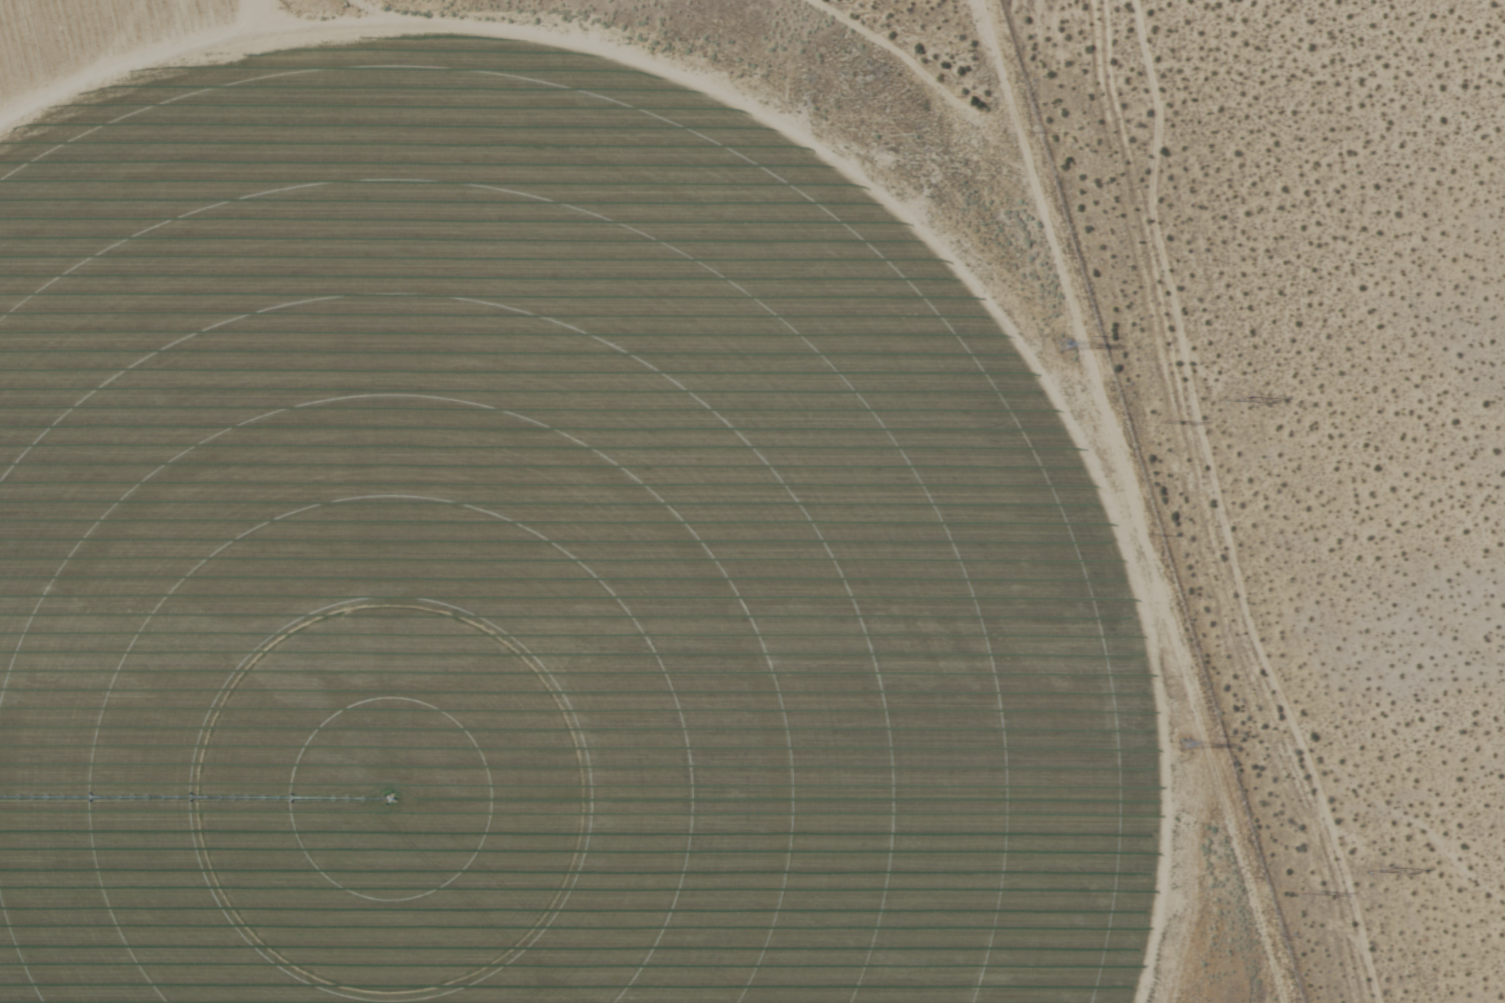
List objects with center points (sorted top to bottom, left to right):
power tower: (1060, 344)
power tower: (1235, 401)
power tower: (1173, 421)
crop: (530, 545)
power tower: (1182, 746)
power tower: (1377, 867)
power tower: (1311, 886)

